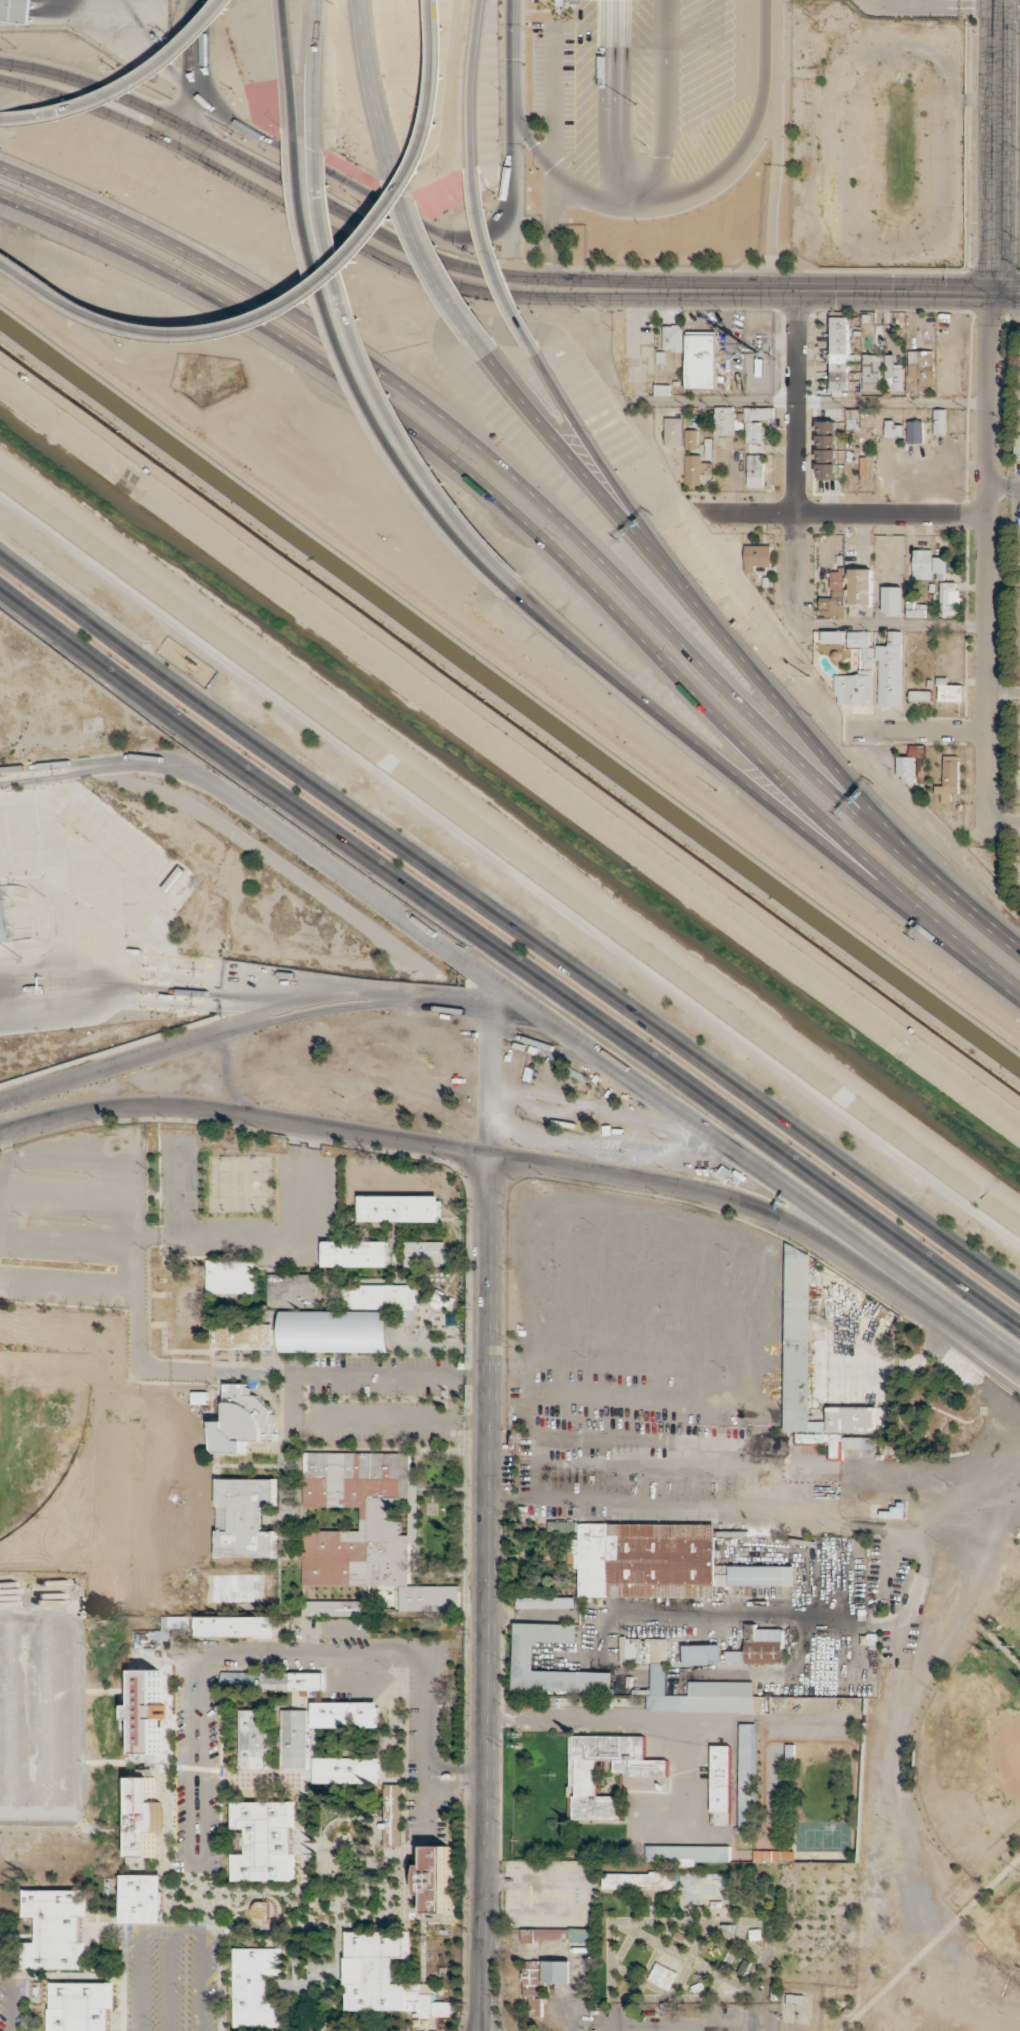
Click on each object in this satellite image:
road: (866, 2)
road: (933, 6)
road: (1009, 7)
building: (17, 10)
road: (29, 12)
road: (284, 38)
road: (311, 41)
road: (192, 73)
road: (470, 82)
road: (126, 85)
road: (373, 95)
road: (775, 145)
road: (996, 146)
road: (337, 210)
road: (336, 231)
road: (442, 233)
road: (496, 263)
road: (442, 282)
road: (857, 291)
road: (310, 292)
road: (348, 318)
road: (332, 320)
building: (673, 338)
building: (842, 358)
building: (702, 361)
building: (922, 366)
building: (871, 372)
building: (893, 374)
road: (808, 401)
building: (741, 421)
building: (940, 421)
building: (893, 429)
building: (673, 432)
building: (691, 439)
building: (827, 441)
road: (796, 462)
road: (499, 464)
building: (695, 469)
building: (755, 471)
building: (827, 471)
road: (607, 473)
road: (589, 478)
road: (844, 514)
road: (525, 523)
building: (757, 557)
road: (486, 559)
building: (927, 564)
road: (987, 565)
building: (861, 586)
building: (834, 596)
building: (949, 598)
building: (892, 600)
building: (915, 610)
road: (890, 625)
building: (833, 637)
building: (858, 639)
building: (890, 671)
building: (856, 684)
road: (1003, 690)
building: (949, 691)
building: (920, 695)
road: (801, 730)
road: (923, 731)
building: (907, 768)
road: (738, 777)
building: (948, 779)
river: (511, 797)
road: (1002, 819)
road: (282, 837)
road: (509, 868)
road: (971, 910)
building: (5, 916)
road: (508, 932)
road: (509, 964)
road: (996, 975)
road: (149, 1002)
road: (550, 1054)
road: (587, 1057)
road: (117, 1062)
road: (219, 1070)
road: (487, 1085)
road: (580, 1108)
road: (242, 1116)
road: (588, 1146)
road: (694, 1191)
parking lot: (302, 1193)
parking lot: (72, 1220)
road: (953, 1324)
parking lot: (366, 1423)
park: (35, 1427)
road: (661, 1446)
road: (757, 1518)
building: (307, 1545)
road: (477, 1598)
building: (698, 1599)
park: (1006, 1612)
road: (774, 1620)
building: (556, 1630)
road: (928, 1654)
parking lot: (40, 1712)
parking lot: (421, 1735)
parking lot: (177, 1753)
park: (967, 1759)
building: (597, 1775)
building: (749, 1776)
building: (722, 1784)
park: (939, 1841)
building: (439, 1883)
park: (1001, 1929)
parking lot: (165, 1977)
parking lot: (9, 2005)

